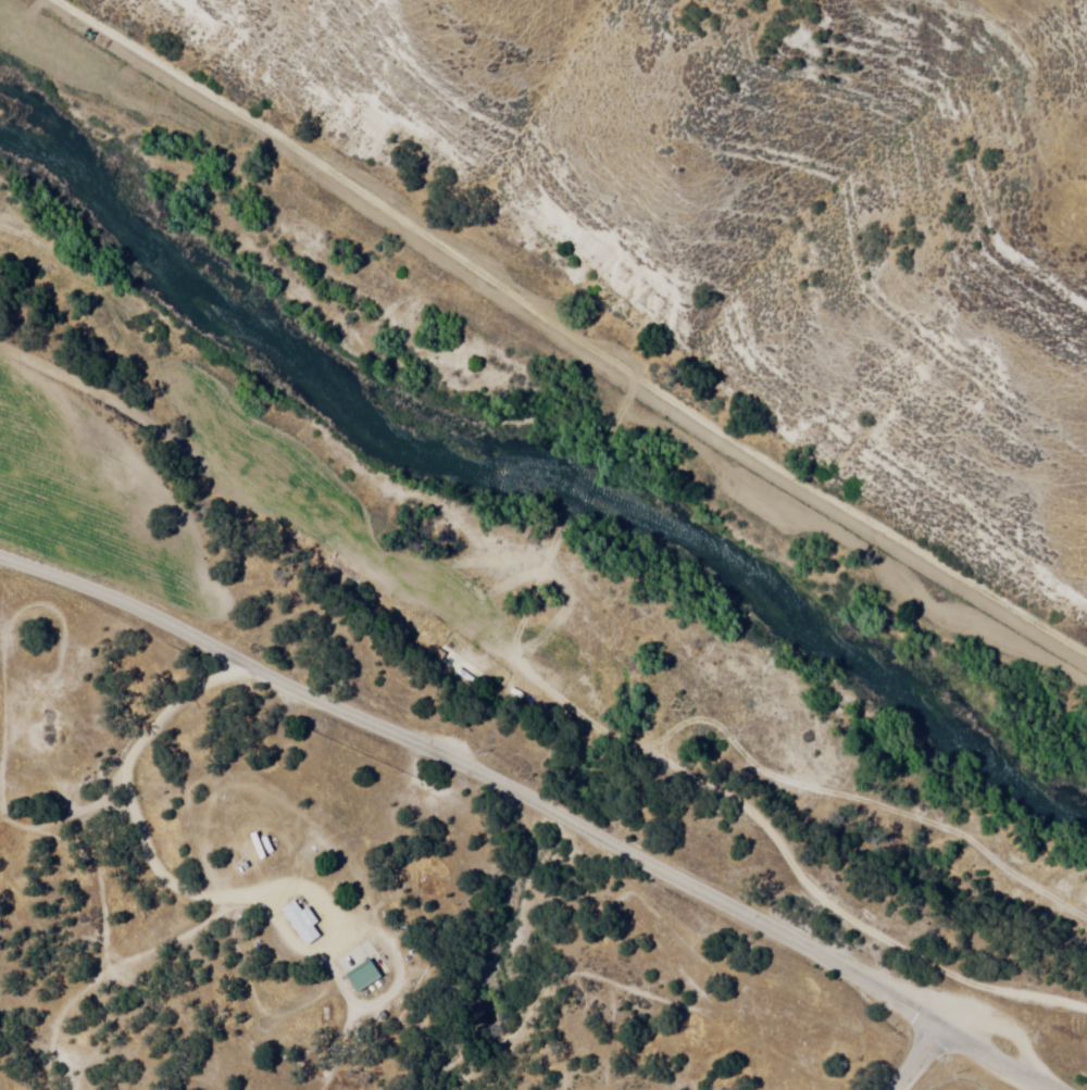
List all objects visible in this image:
river: (82, 175)
road: (573, 334)
river: (507, 442)
river: (959, 682)
road: (482, 770)
road: (164, 876)
building: (303, 920)
building: (364, 974)
road: (920, 1056)
road: (1000, 1056)

